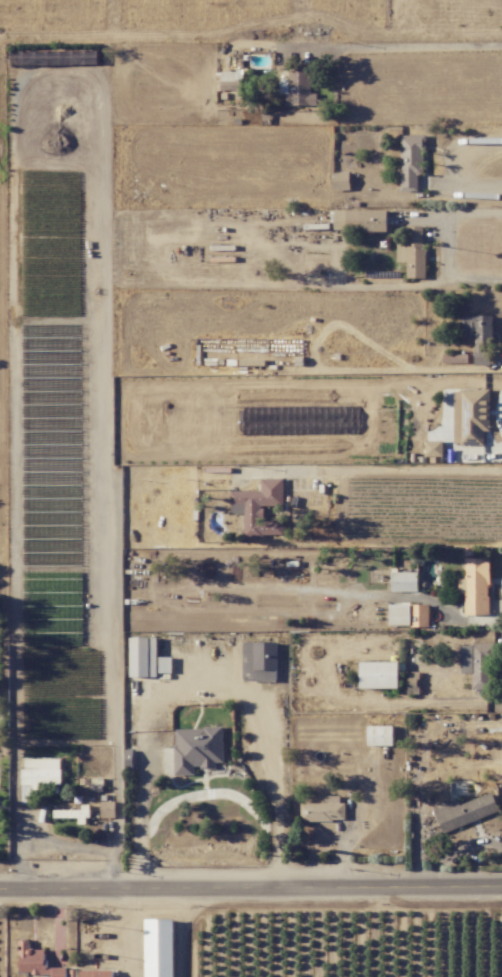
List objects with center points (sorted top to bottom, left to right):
road: (397, 46)
building: (231, 80)
building: (298, 89)
building: (411, 160)
building: (340, 181)
building: (360, 220)
road: (446, 246)
building: (412, 251)
building: (478, 336)
building: (454, 358)
building: (470, 415)
building: (433, 448)
road: (408, 469)
building: (259, 507)
building: (475, 585)
building: (409, 615)
building: (147, 658)
building: (259, 661)
building: (478, 663)
building: (378, 674)
road: (205, 677)
building: (412, 682)
building: (379, 735)
building: (197, 749)
building: (39, 775)
building: (100, 806)
building: (323, 809)
building: (465, 811)
building: (74, 814)
road: (251, 884)
building: (159, 948)
building: (35, 961)
building: (96, 973)

